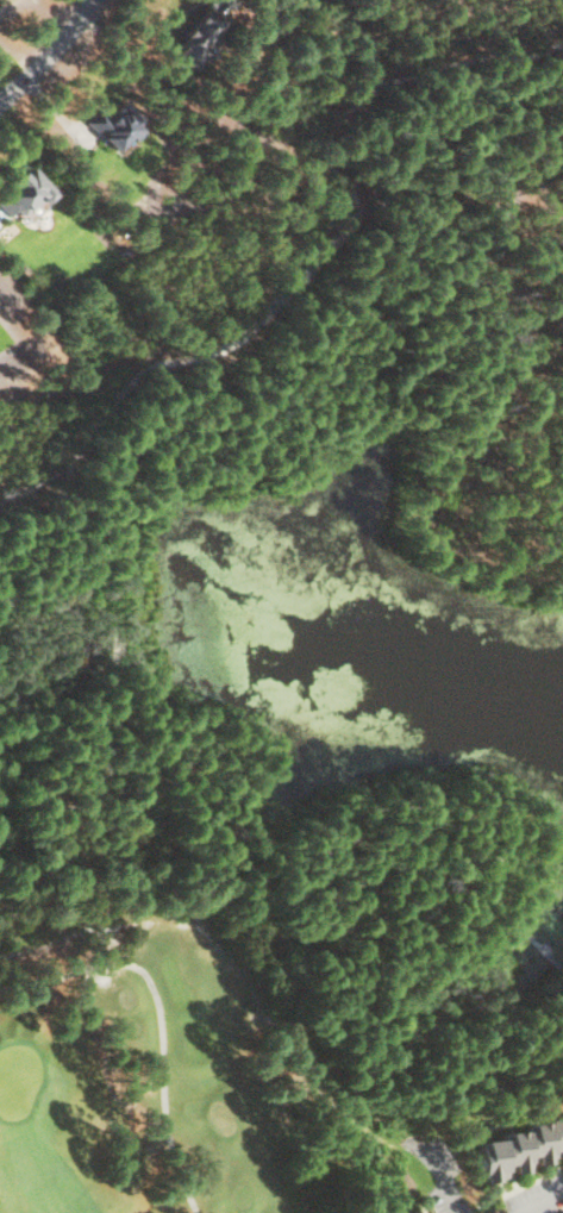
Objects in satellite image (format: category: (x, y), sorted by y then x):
building: (201, 37)
road: (46, 51)
building: (117, 123)
building: (26, 190)
park: (302, 532)
road: (96, 596)
road: (61, 802)
road: (538, 942)
road: (167, 1015)
road: (162, 1017)
park: (130, 1062)
building: (520, 1149)
road: (443, 1182)
road: (548, 1206)
building: (409, 1211)

